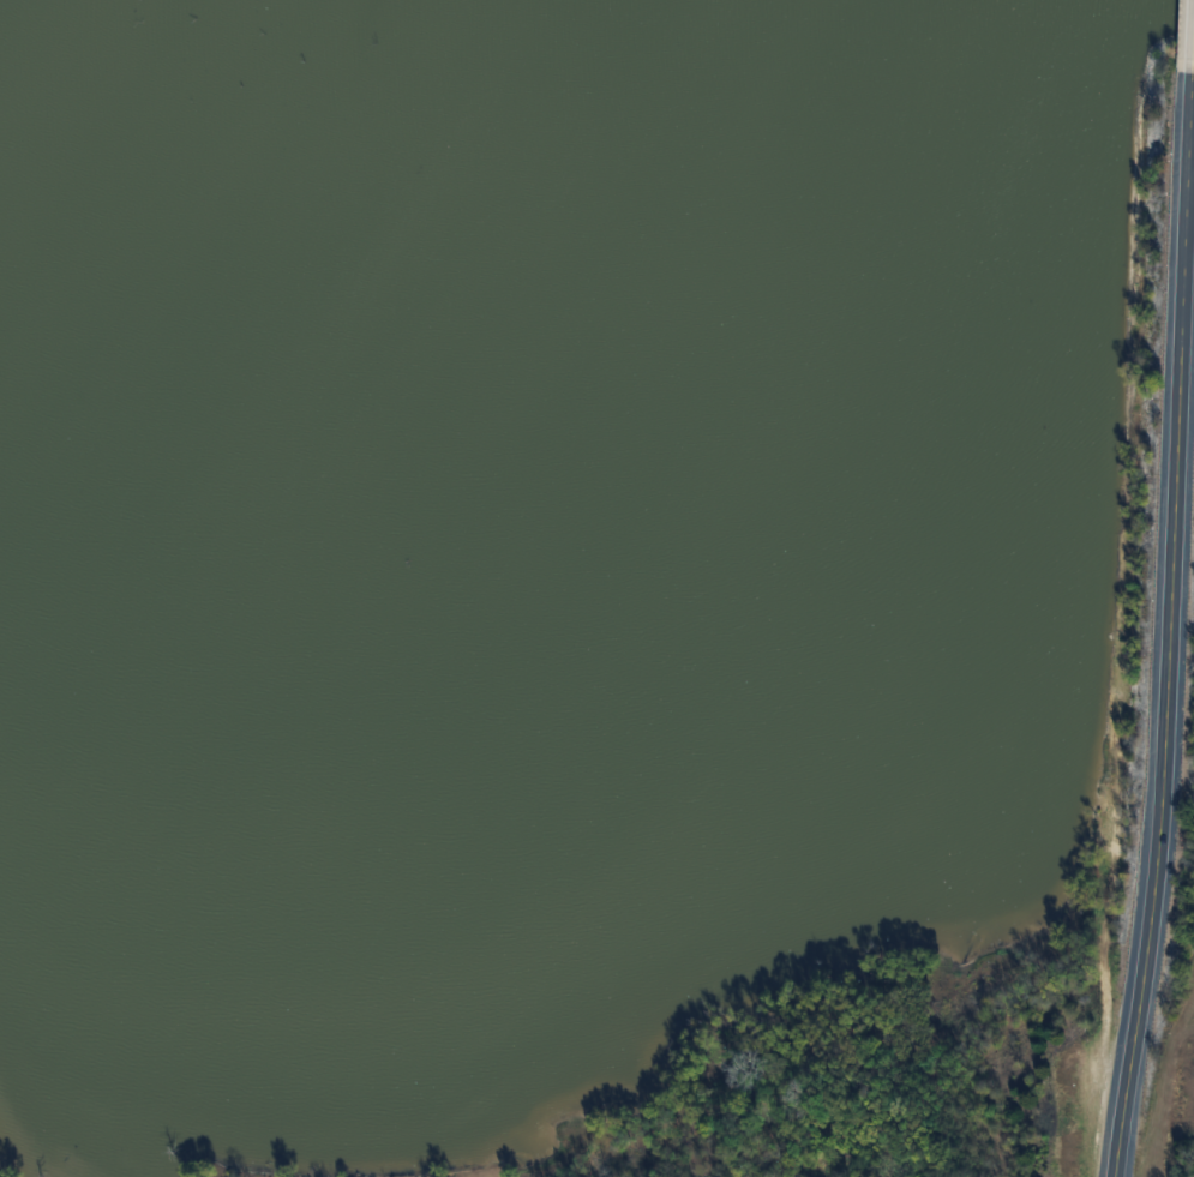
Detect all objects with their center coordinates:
road: (1170, 675)

